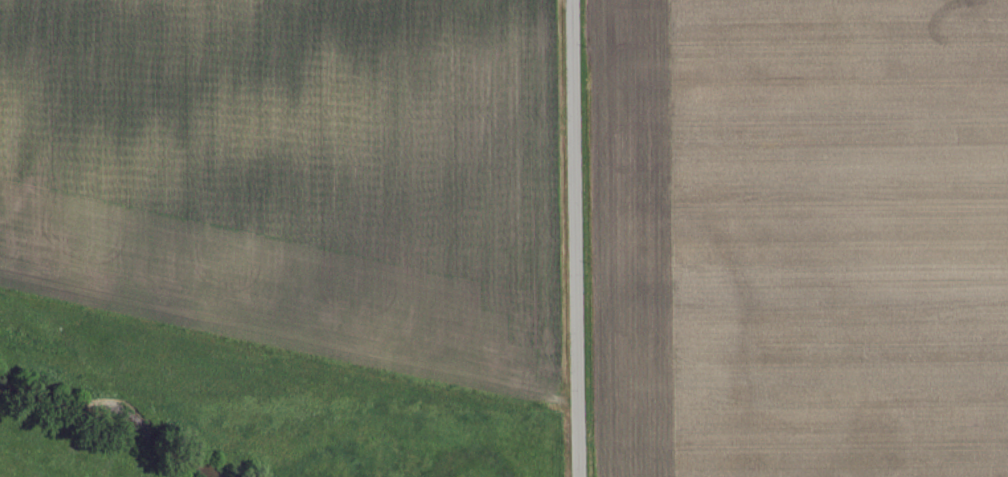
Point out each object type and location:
road: (571, 238)

